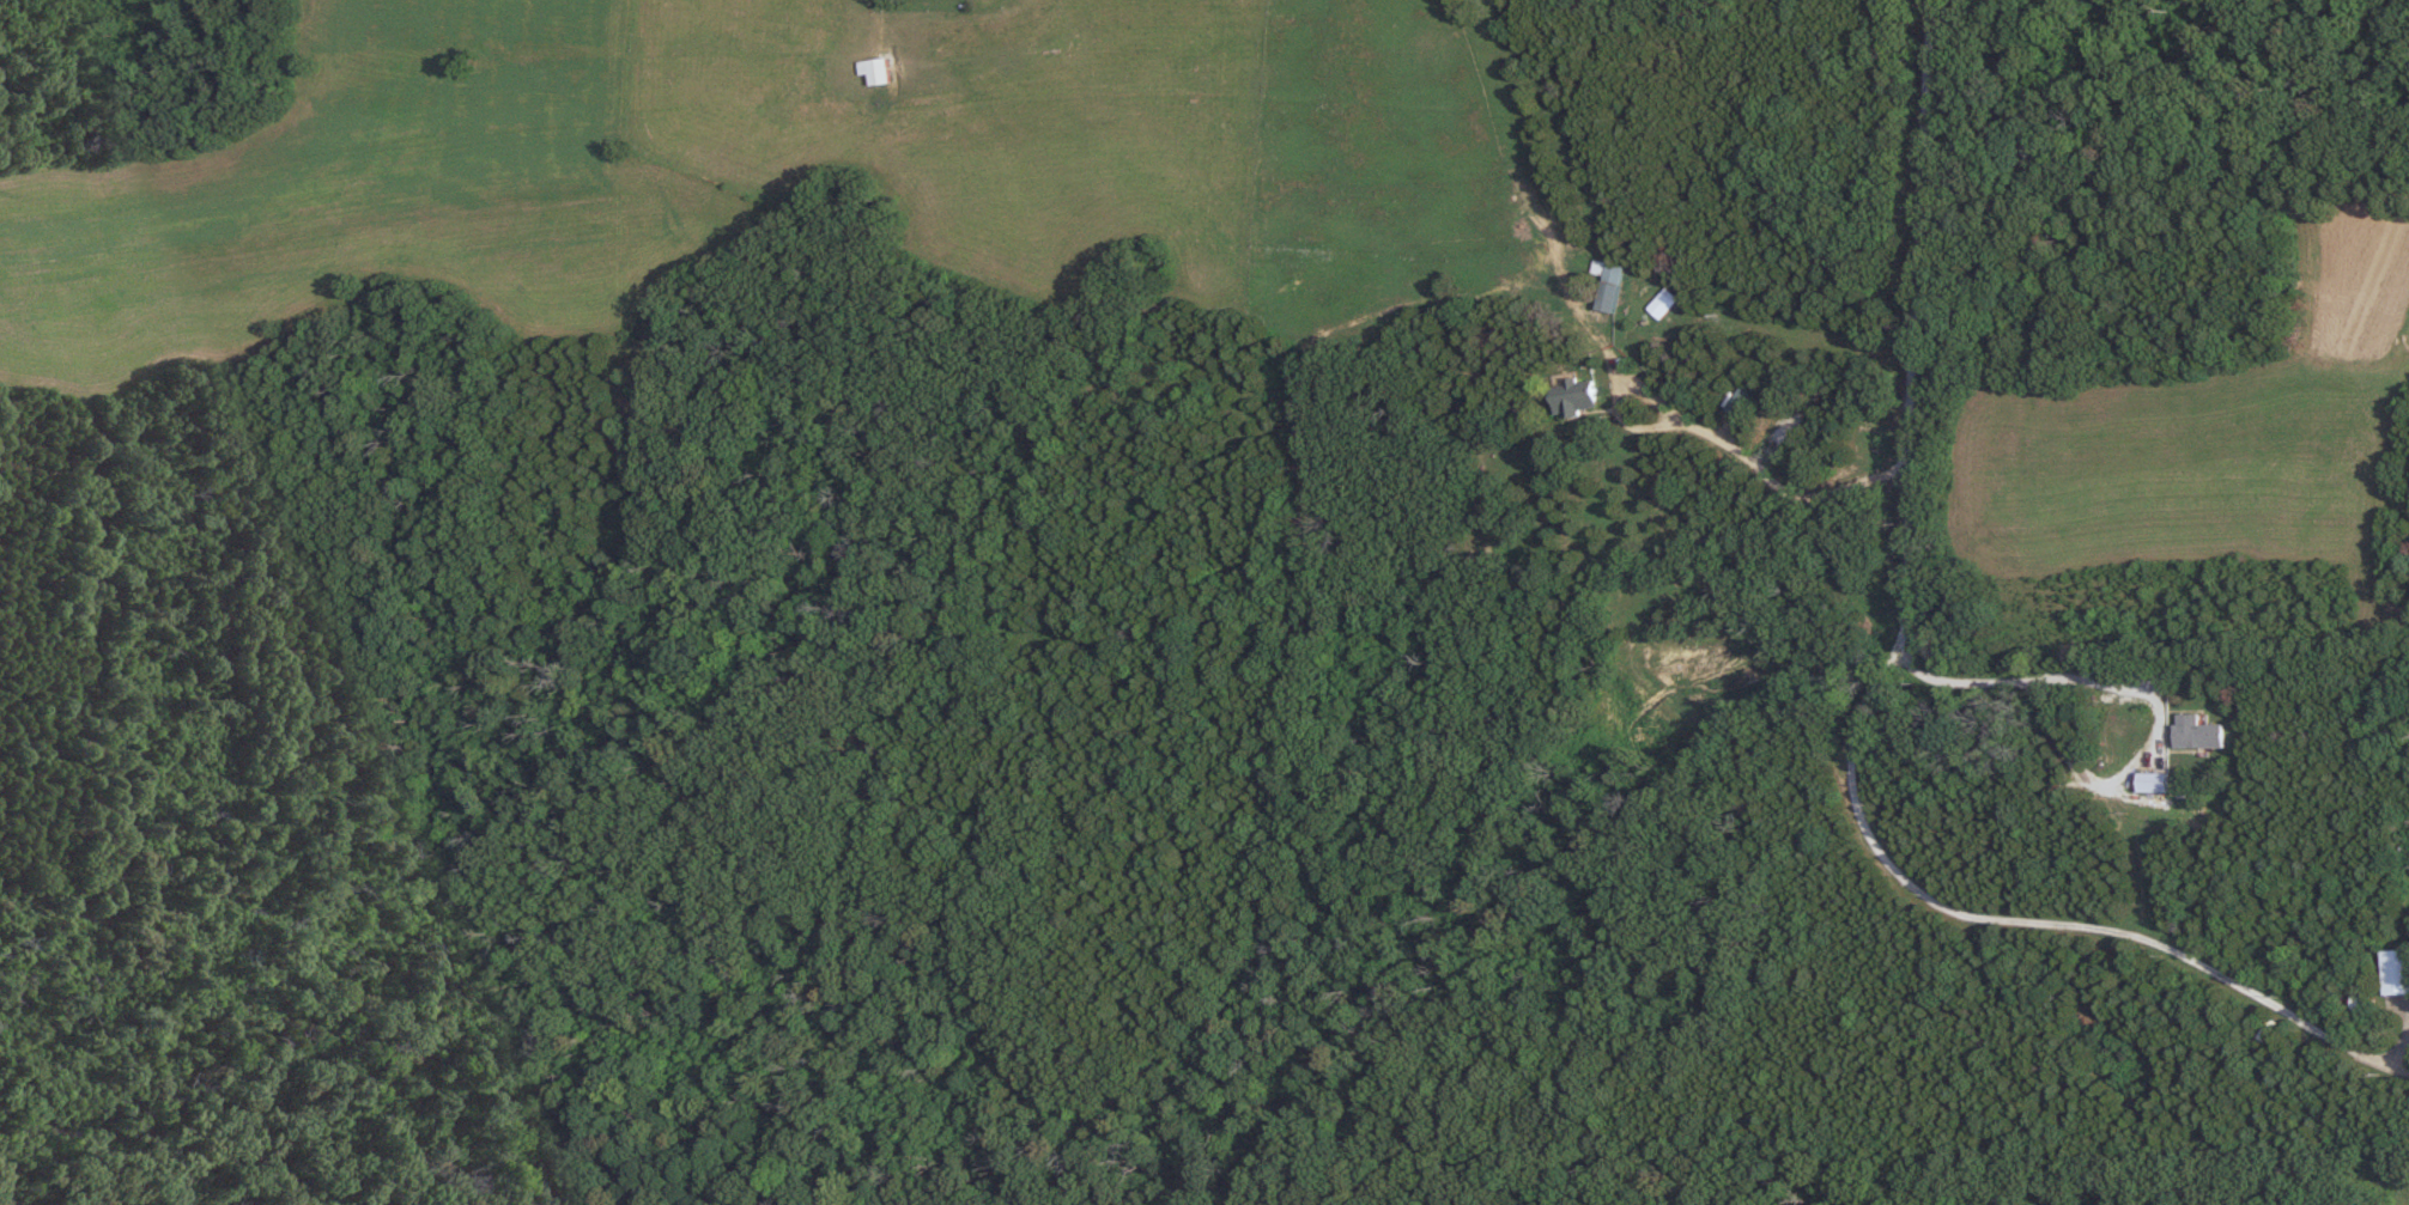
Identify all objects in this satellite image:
building: (873, 71)
building: (1608, 282)
building: (1576, 396)
road: (1747, 470)
road: (2050, 674)
road: (1874, 694)
building: (2196, 731)
building: (2150, 781)
building: (2395, 970)

